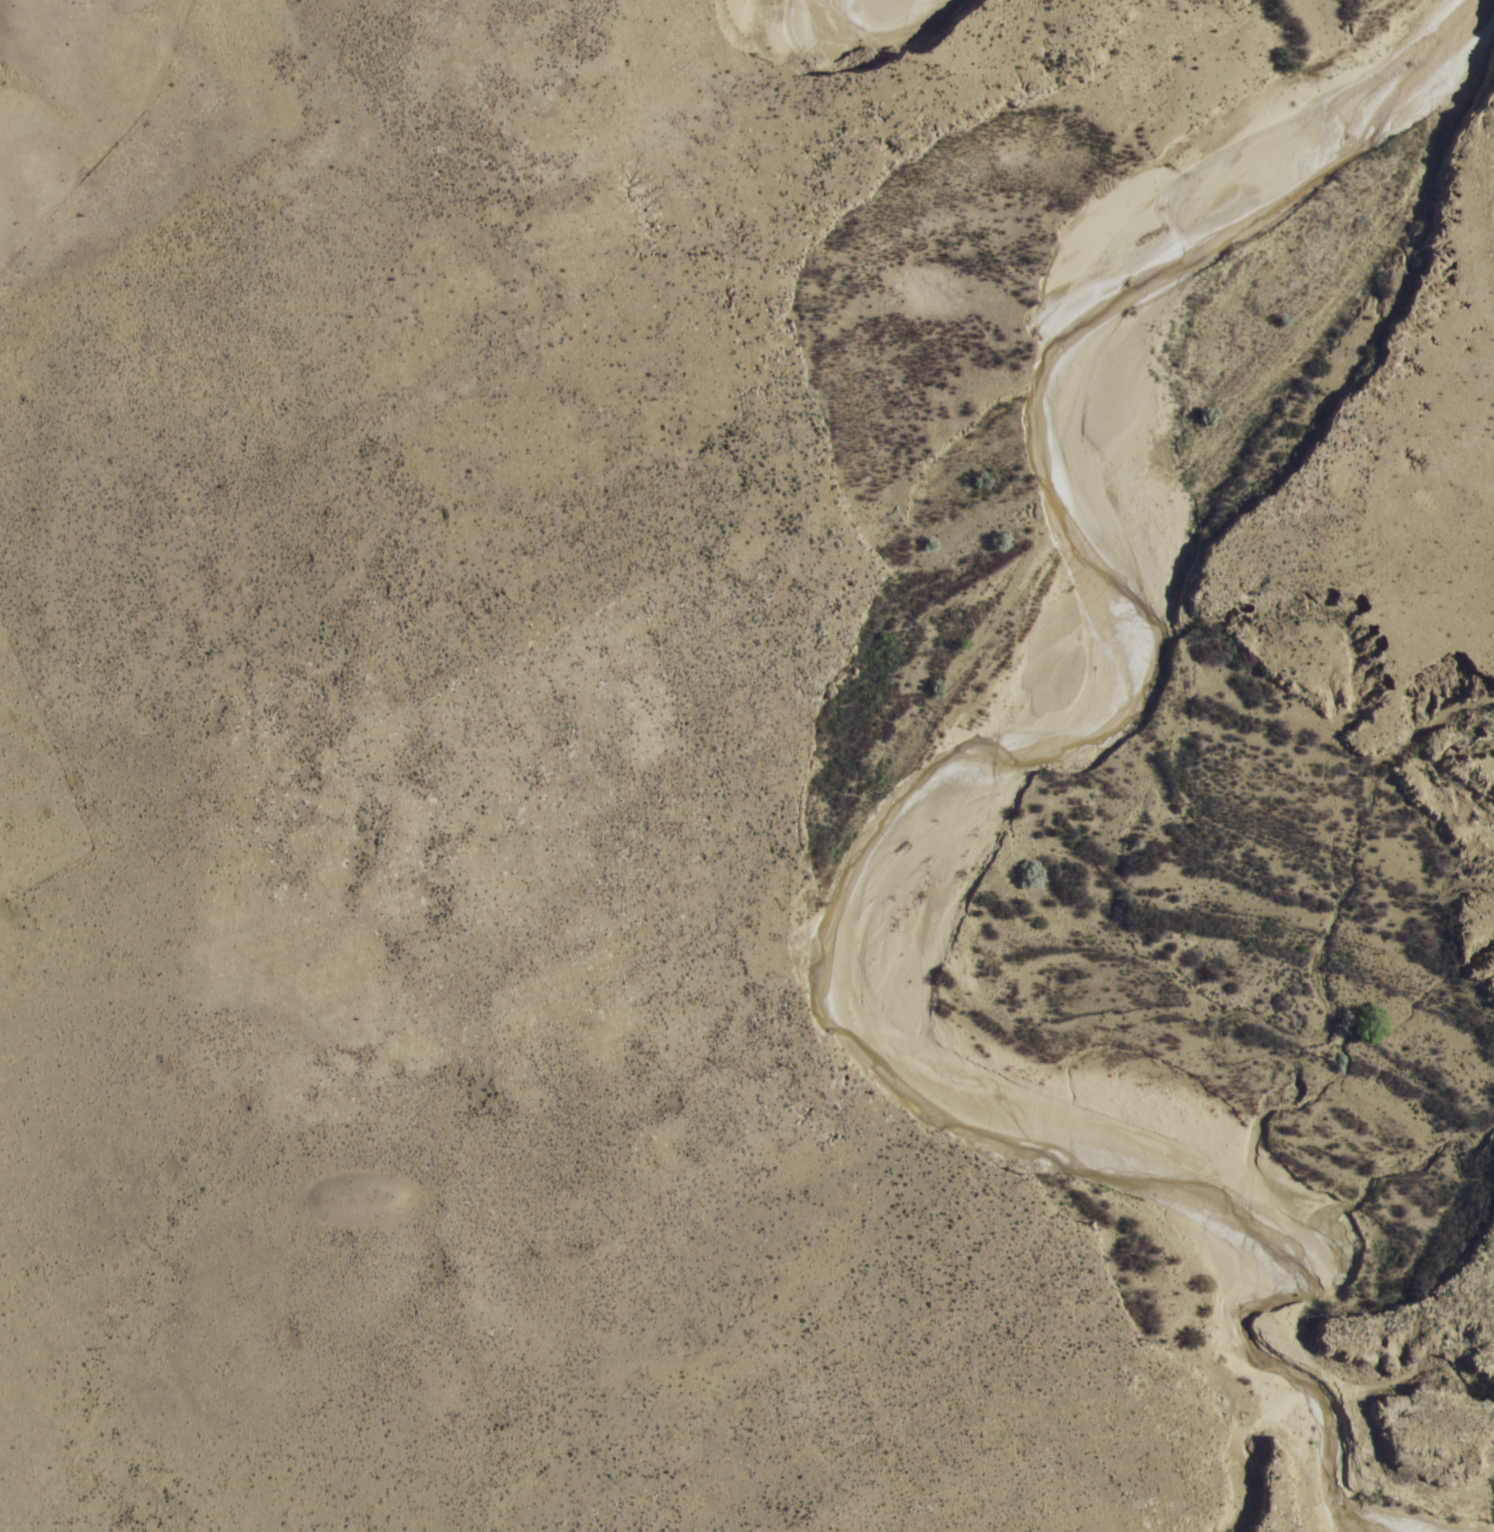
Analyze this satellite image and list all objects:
river: (910, 824)

